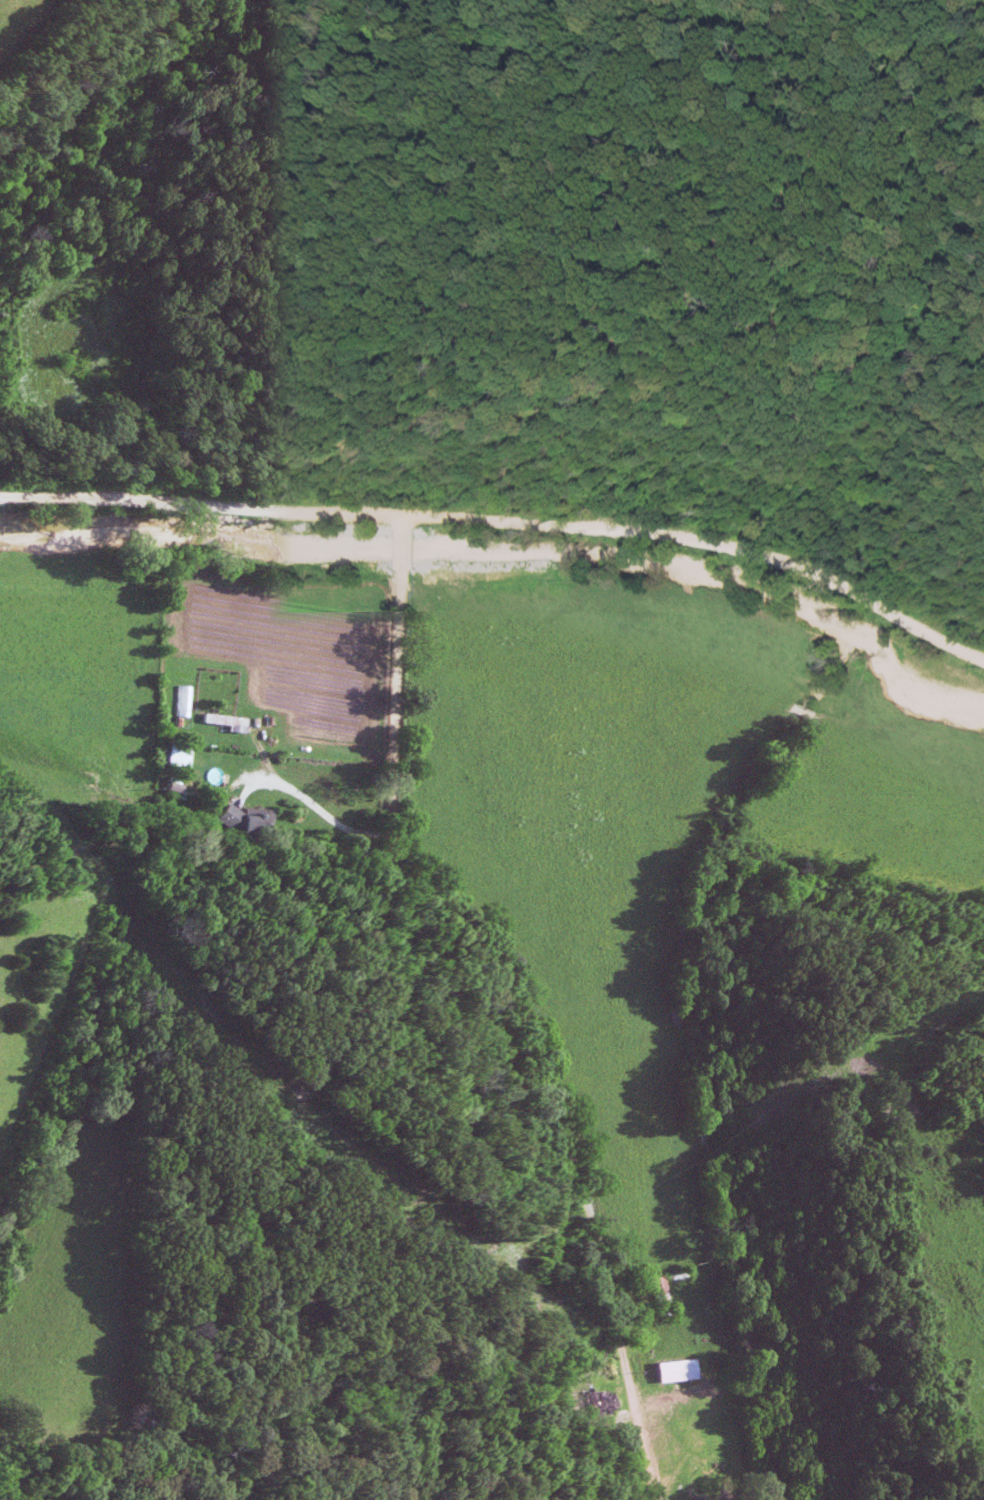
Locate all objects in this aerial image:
road: (403, 521)
road: (500, 521)
road: (403, 547)
building: (218, 722)
road: (315, 810)
building: (242, 820)
road: (515, 1021)
building: (654, 1297)
building: (669, 1371)
building: (594, 1401)
building: (683, 1490)

